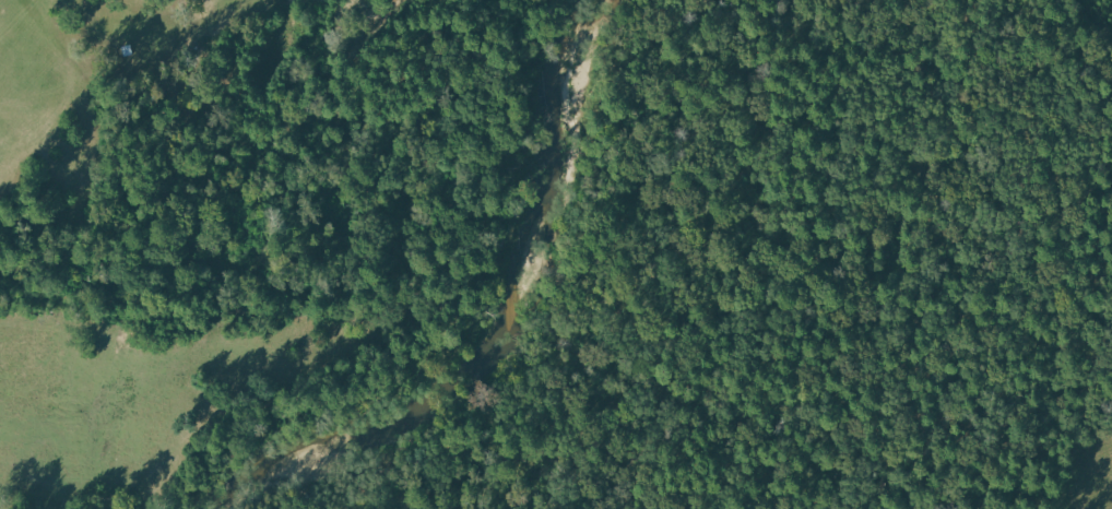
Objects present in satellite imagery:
road: (613, 283)
river: (500, 323)

